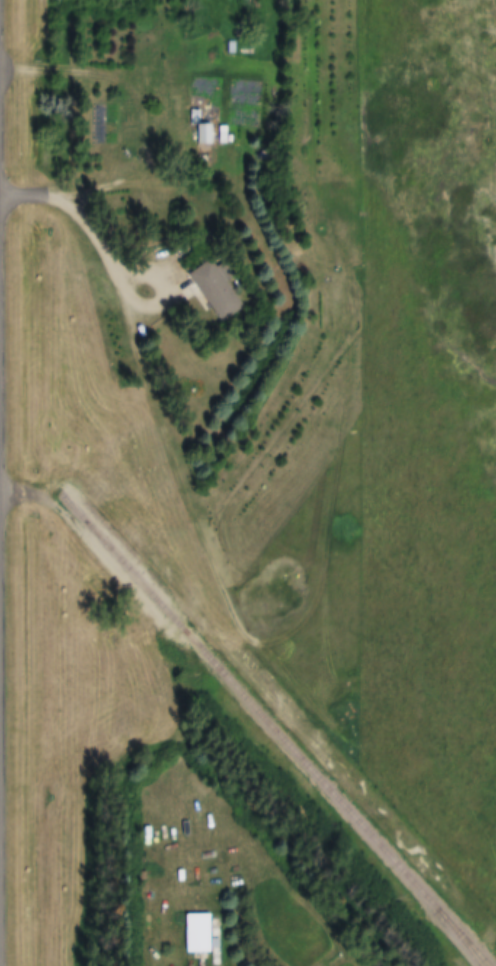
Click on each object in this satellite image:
building: (208, 89)
road: (151, 133)
building: (207, 134)
building: (223, 289)
road: (126, 294)
road: (1, 429)
road: (3, 482)
railway: (273, 732)
road: (1, 760)
building: (201, 934)
railway: (455, 938)

